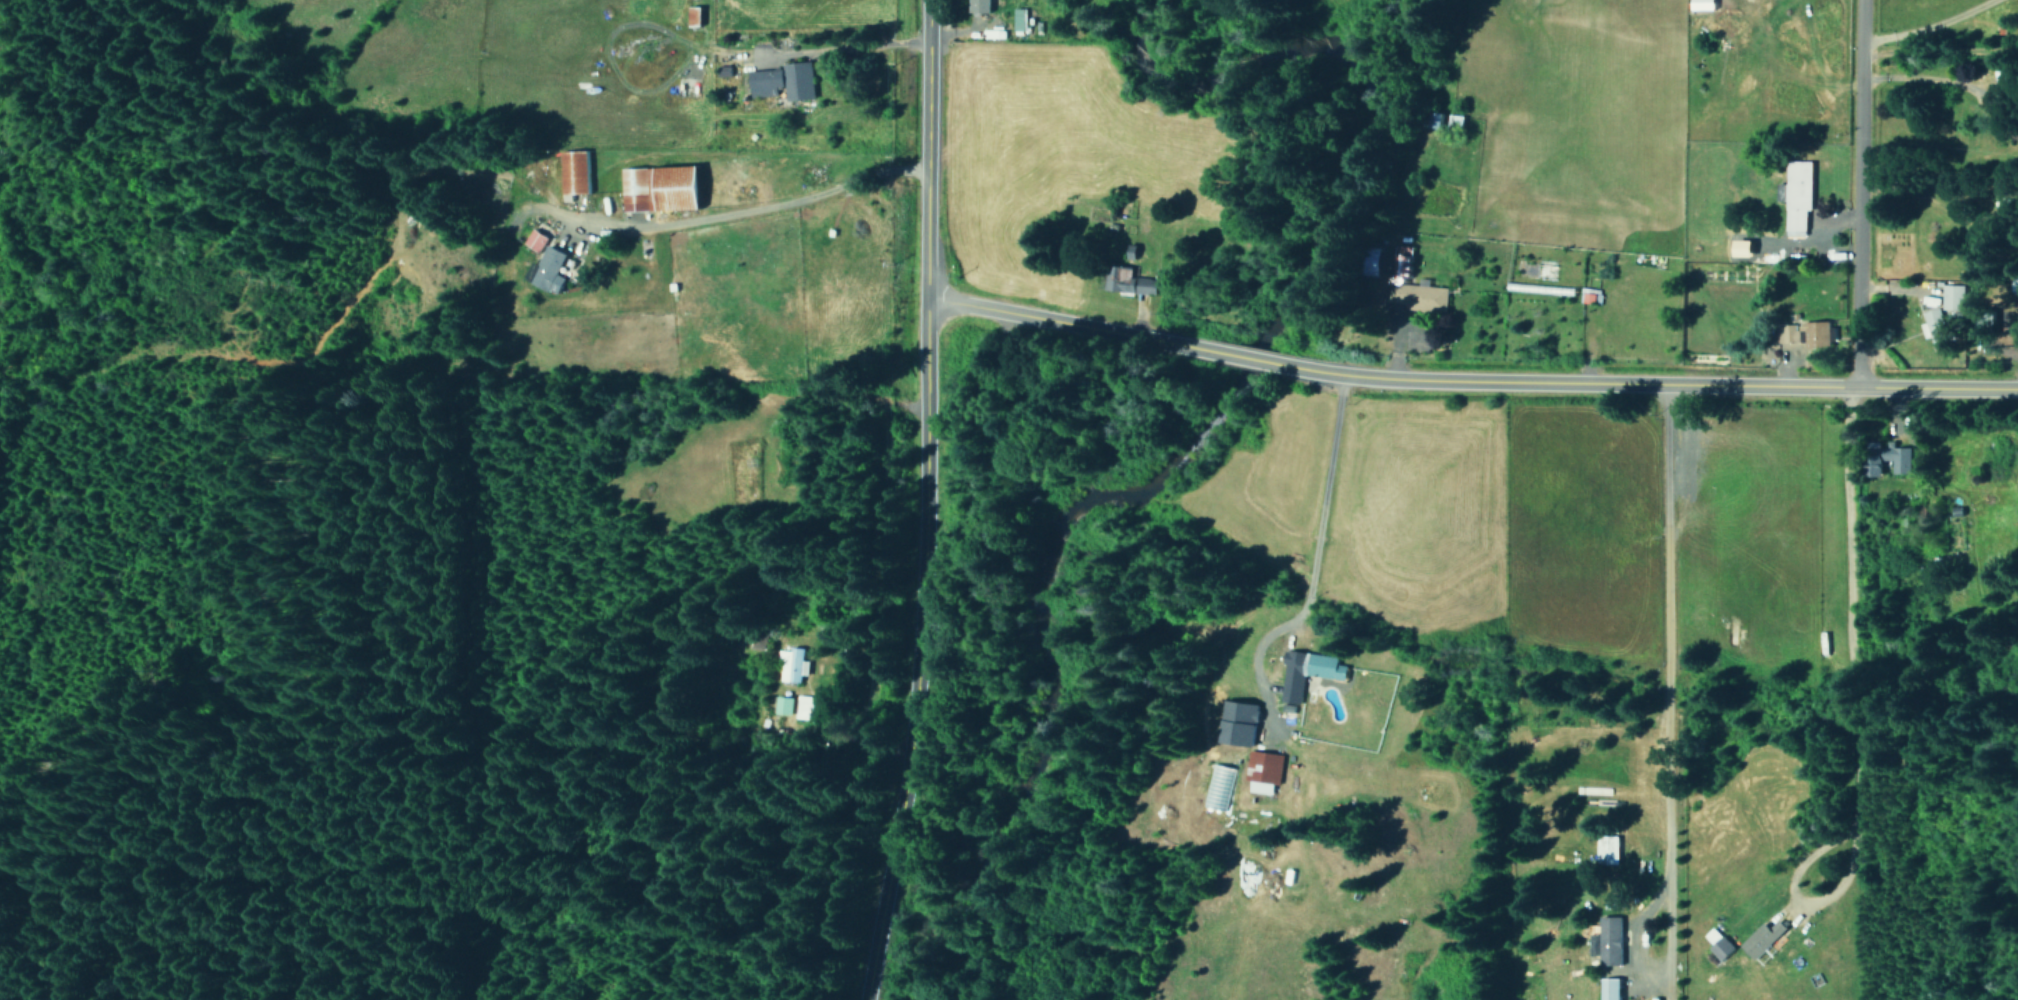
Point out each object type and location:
building: (1705, 4)
building: (981, 6)
building: (696, 14)
building: (1020, 19)
road: (1932, 28)
building: (996, 33)
road: (1938, 52)
building: (2004, 77)
building: (786, 80)
building: (576, 171)
building: (664, 187)
building: (1798, 195)
road: (1860, 195)
road: (729, 225)
building: (537, 238)
building: (552, 269)
building: (1130, 280)
building: (1590, 295)
building: (1952, 296)
building: (1426, 298)
building: (1935, 328)
building: (1819, 334)
road: (1468, 381)
road: (840, 407)
river: (1177, 434)
building: (1900, 457)
road: (916, 501)
road: (1316, 543)
road: (1666, 657)
building: (792, 664)
building: (1309, 672)
building: (784, 704)
building: (804, 706)
road: (665, 718)
building: (1241, 722)
road: (1855, 722)
building: (1264, 770)
building: (1610, 848)
building: (1765, 938)
building: (1612, 940)
building: (1611, 989)

